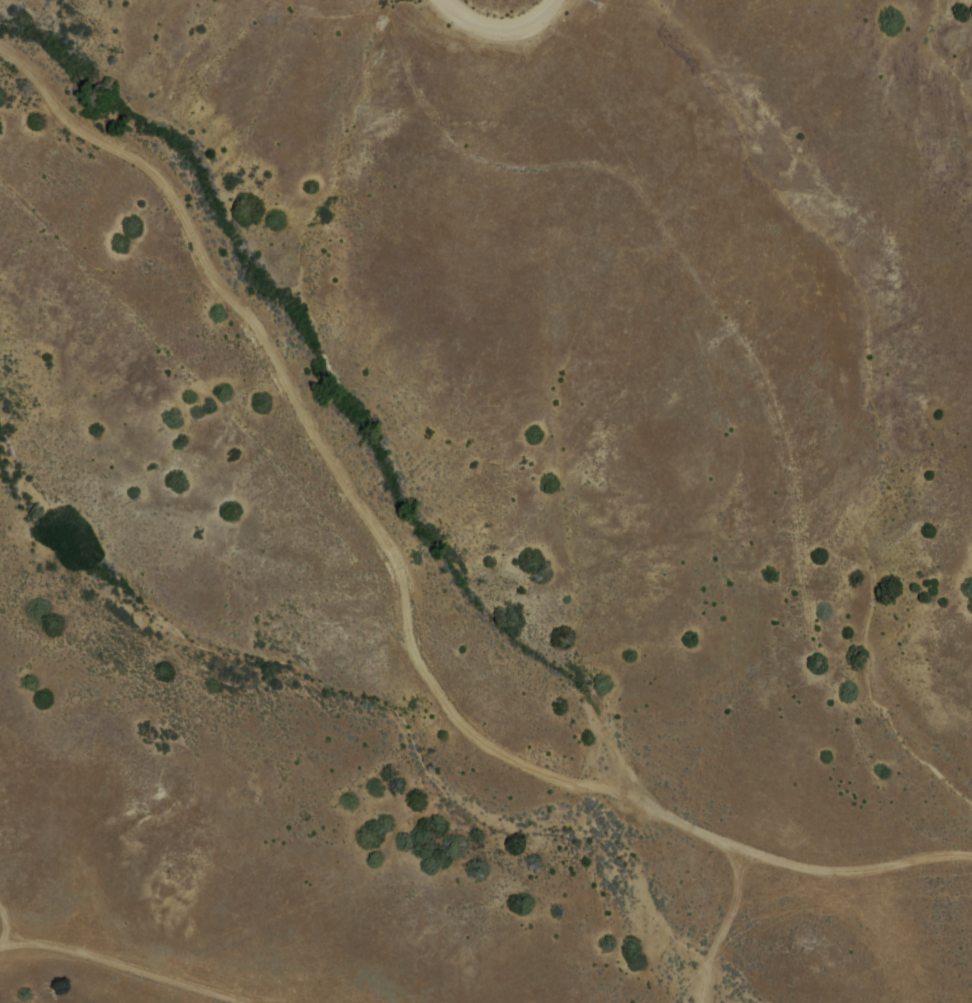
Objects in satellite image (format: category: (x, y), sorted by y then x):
road: (499, 22)
road: (699, 347)
road: (400, 589)
road: (738, 911)
road: (123, 965)

